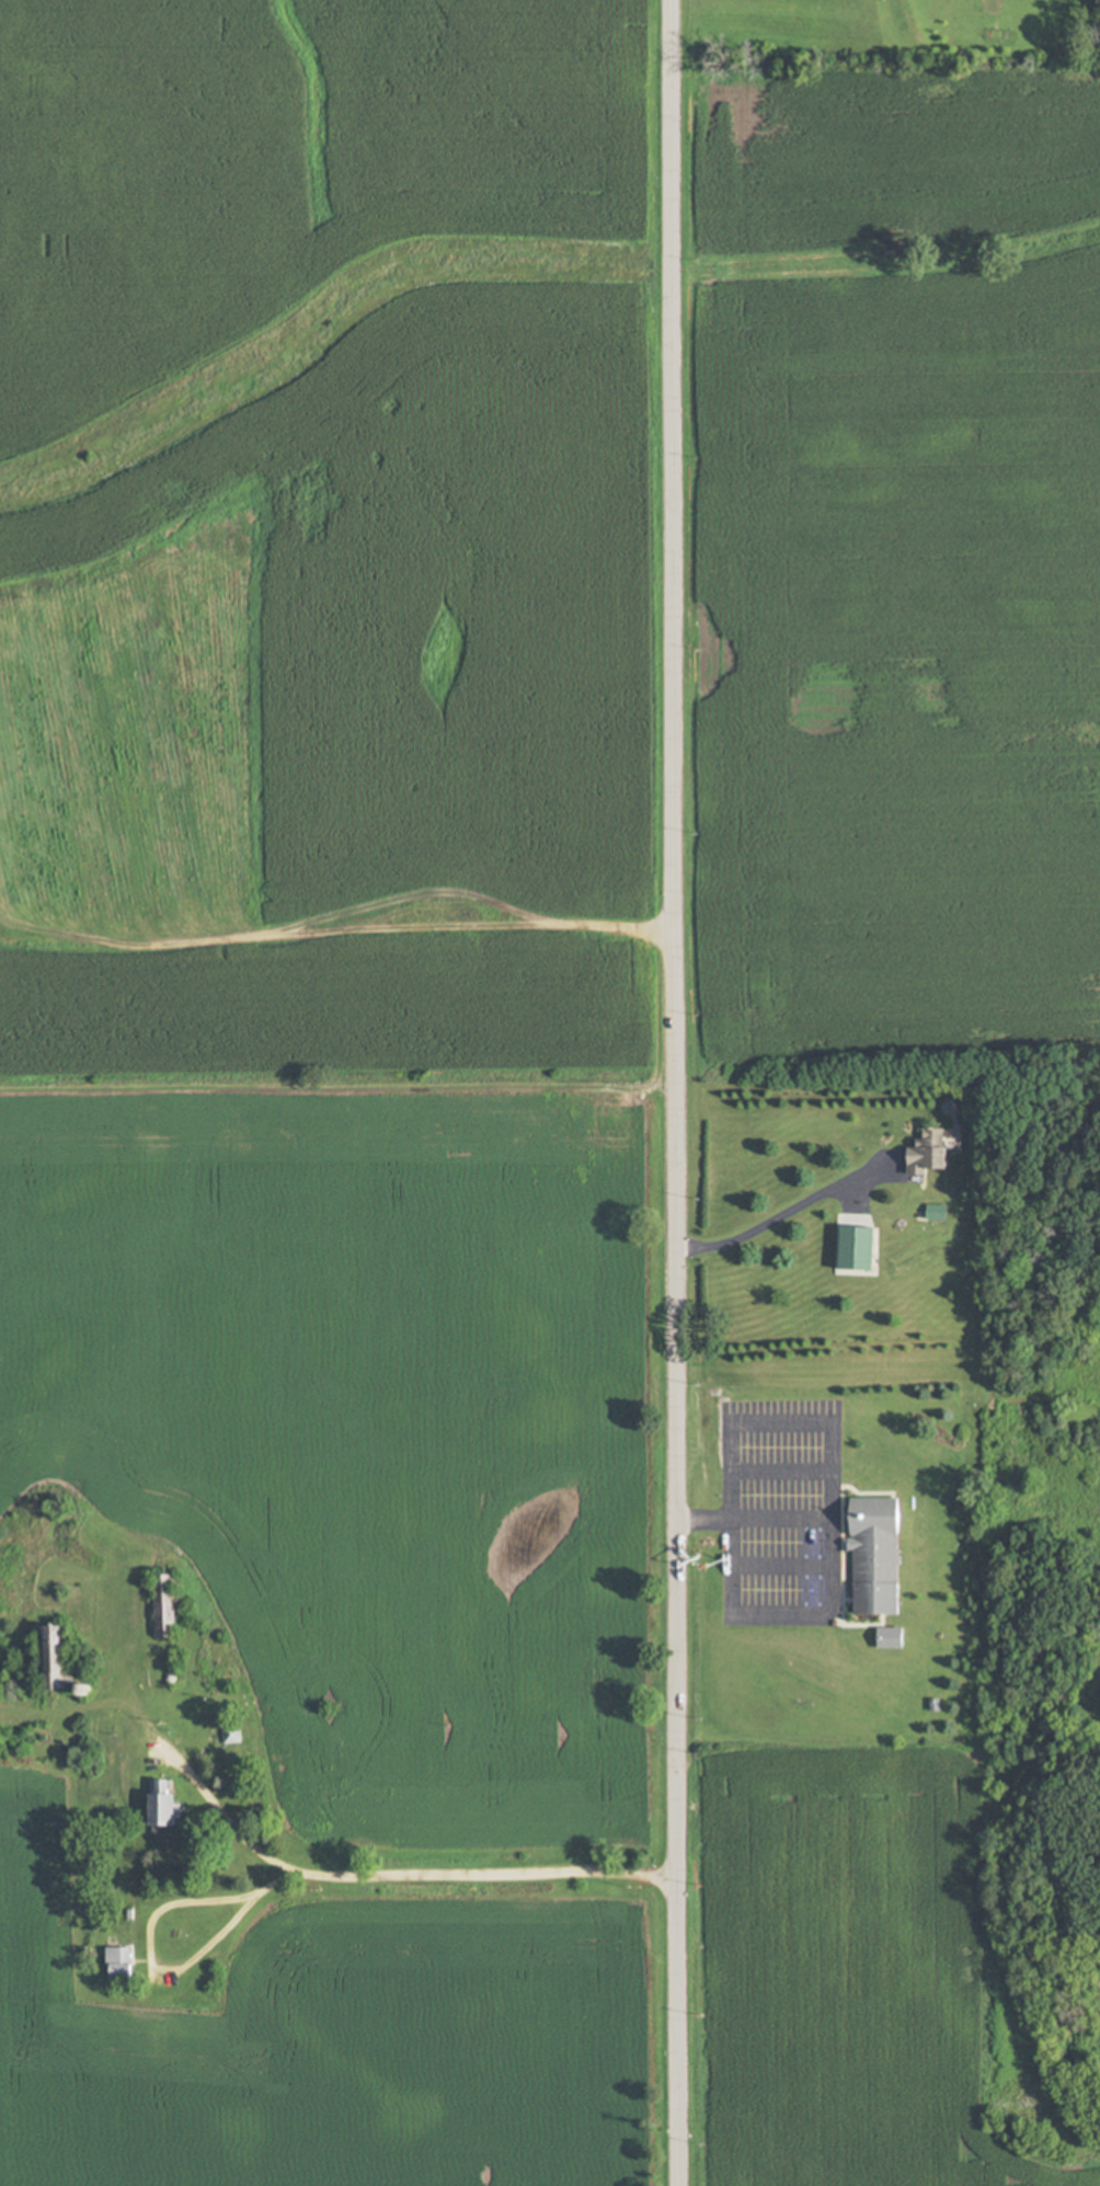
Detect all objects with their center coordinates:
road: (671, 1092)
building: (932, 1151)
road: (782, 1213)
building: (876, 1555)
road: (731, 1599)
building: (169, 1604)
building: (893, 1638)
building: (58, 1656)
building: (233, 1731)
building: (169, 1804)
road: (221, 1820)
road: (480, 1872)
building: (123, 1961)
road: (159, 1973)

